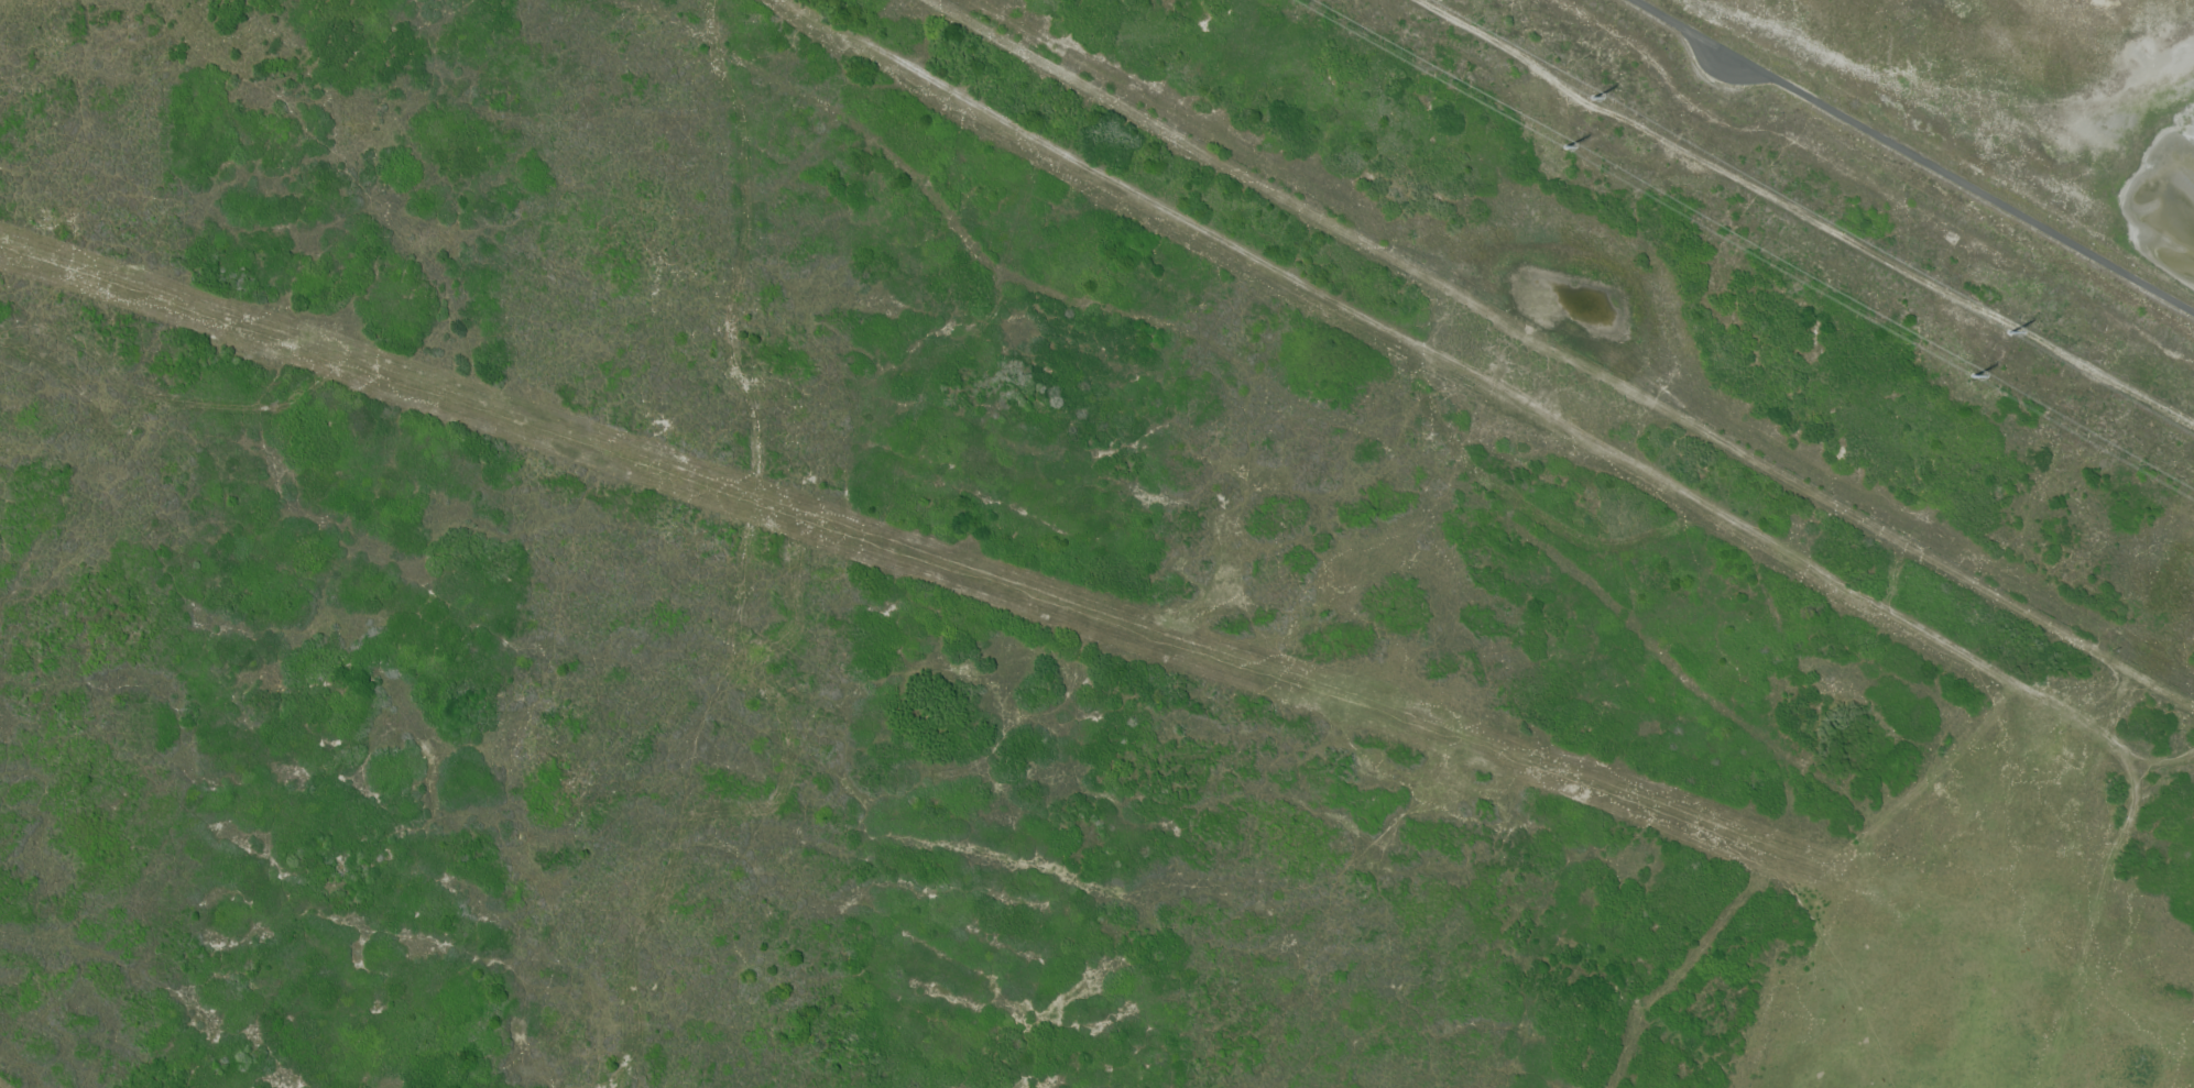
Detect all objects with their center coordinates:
power tower: (1593, 92)
power tower: (1567, 144)
road: (1913, 155)
power plant: (1779, 231)
power tower: (2008, 329)
power tower: (1973, 372)

